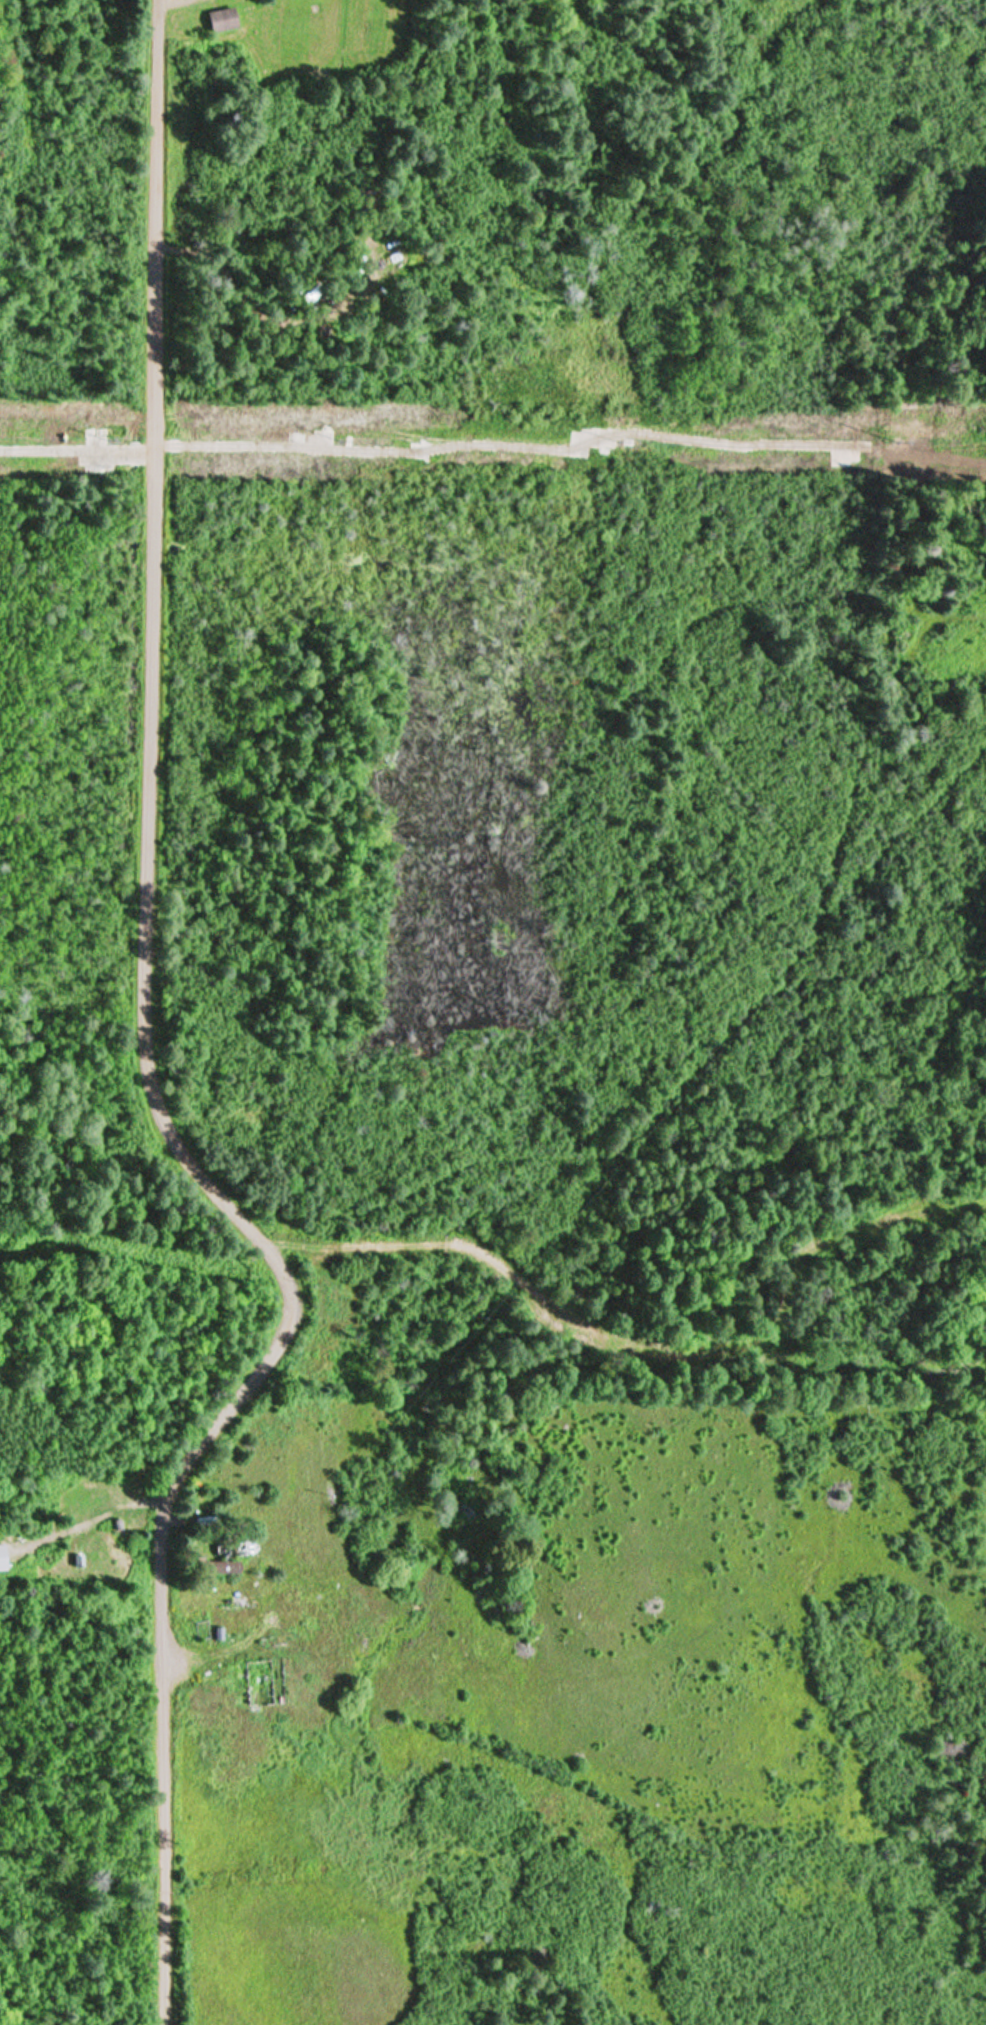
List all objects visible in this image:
building: (218, 20)
road: (145, 1054)
road: (81, 1525)
building: (215, 1567)

